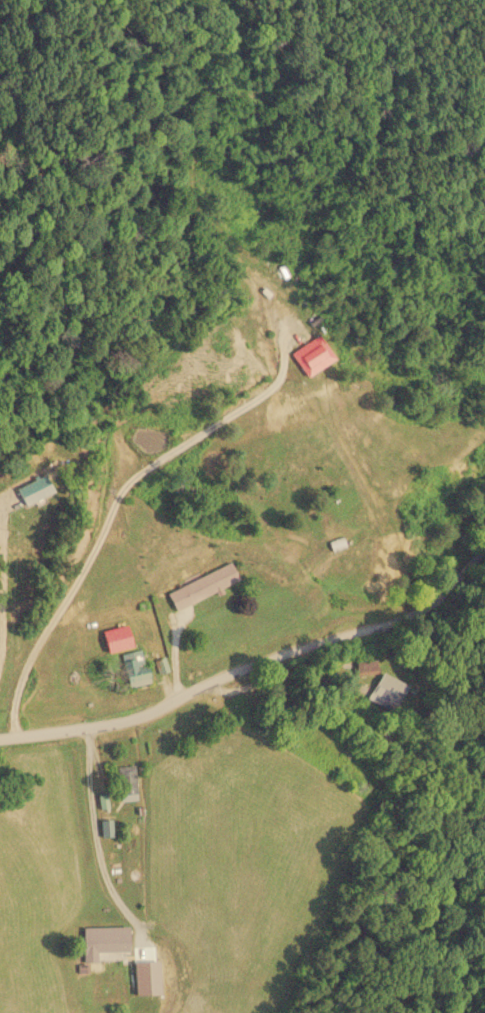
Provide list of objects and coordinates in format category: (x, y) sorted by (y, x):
building: (201, 586)
road: (254, 661)
building: (134, 668)
building: (387, 691)
building: (126, 783)
building: (105, 828)
building: (102, 941)
building: (145, 978)

